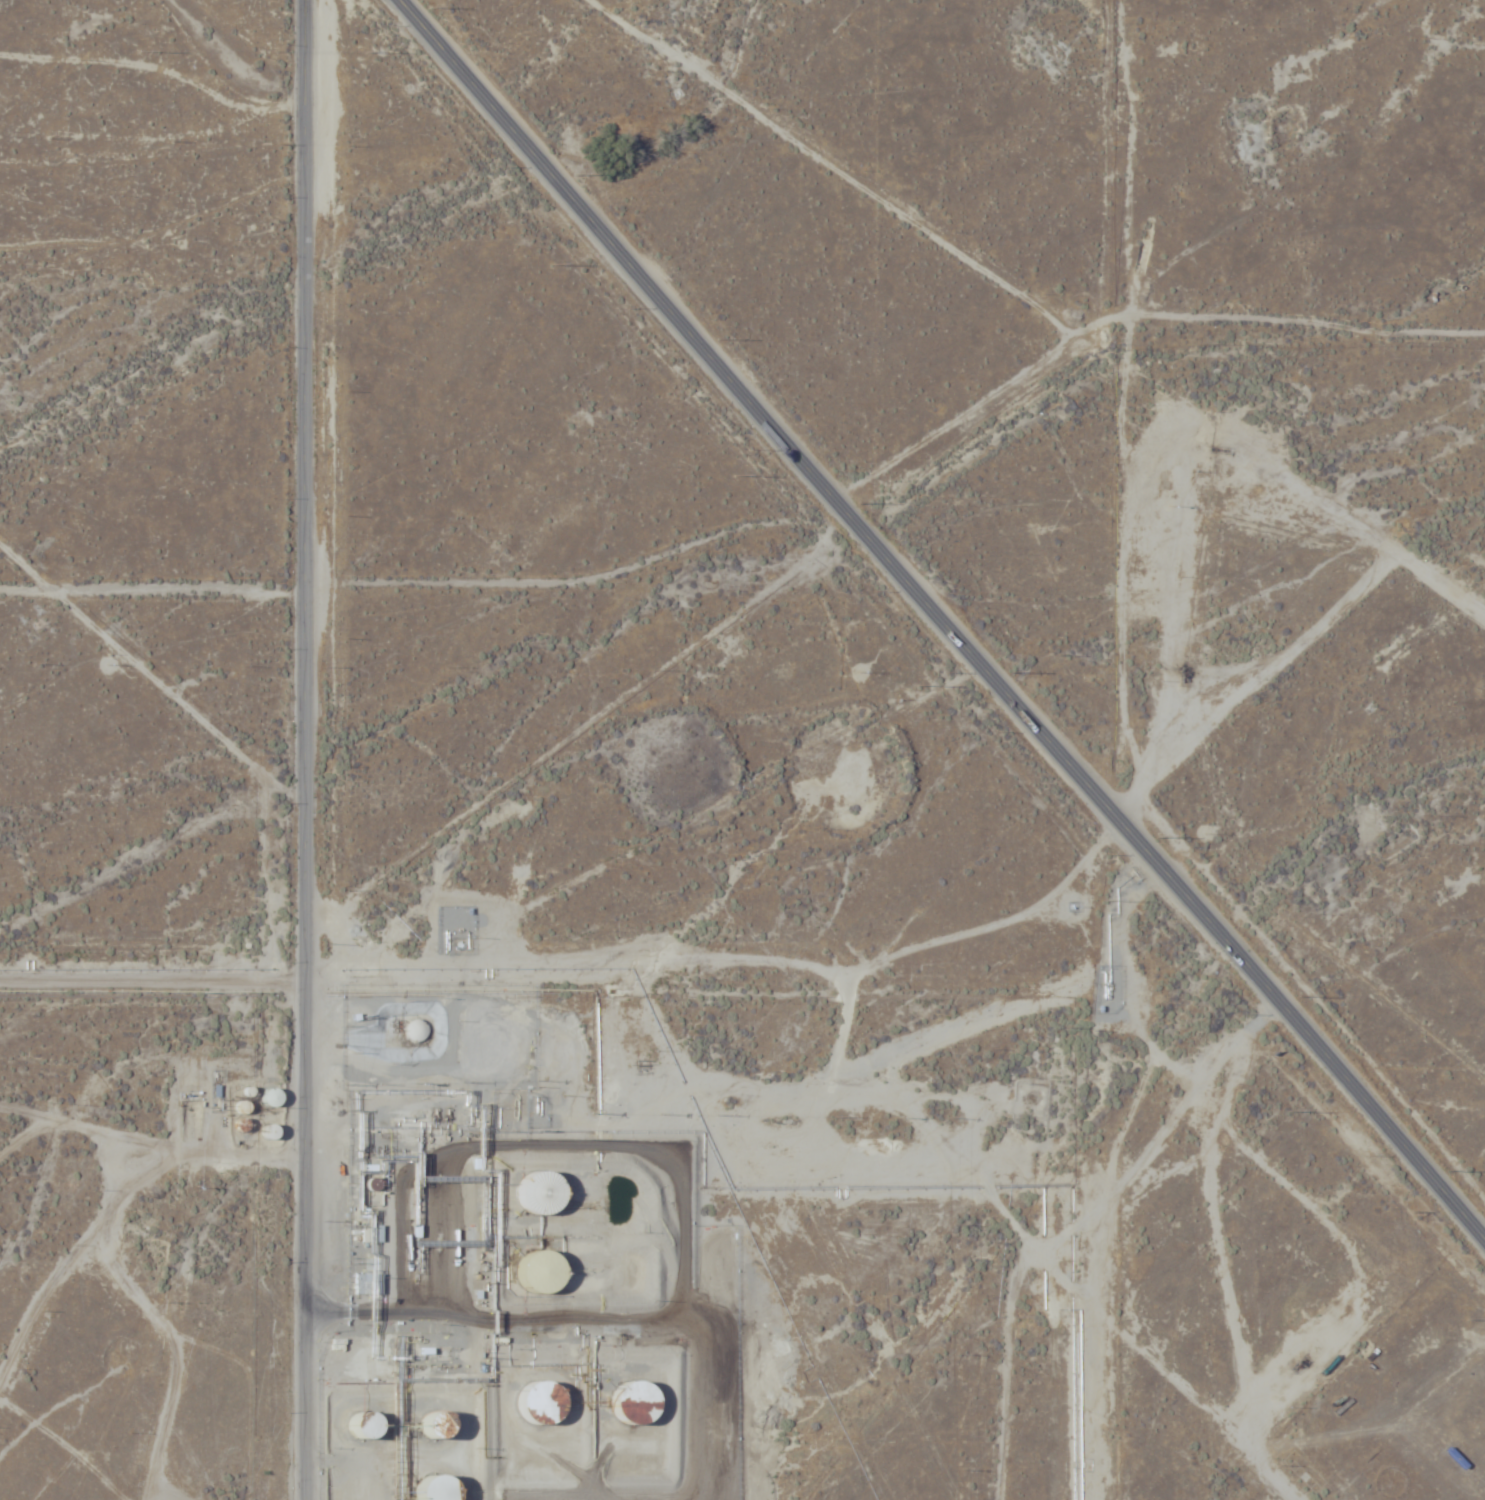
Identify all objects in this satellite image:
road: (933, 609)
road: (309, 749)
road: (21, 975)
road: (21, 1004)
building: (531, 1194)
building: (373, 1234)
building: (532, 1273)
building: (367, 1285)
building: (535, 1403)
building: (627, 1403)
building: (356, 1428)

